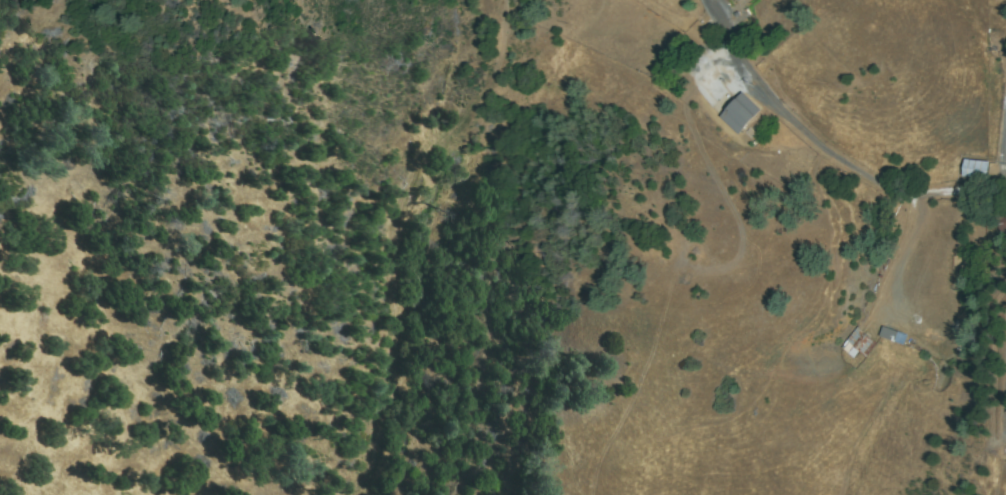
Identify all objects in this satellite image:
building: (736, 0)
building: (741, 113)
building: (977, 169)
building: (1002, 220)
building: (889, 335)
building: (859, 343)
road: (1002, 389)

